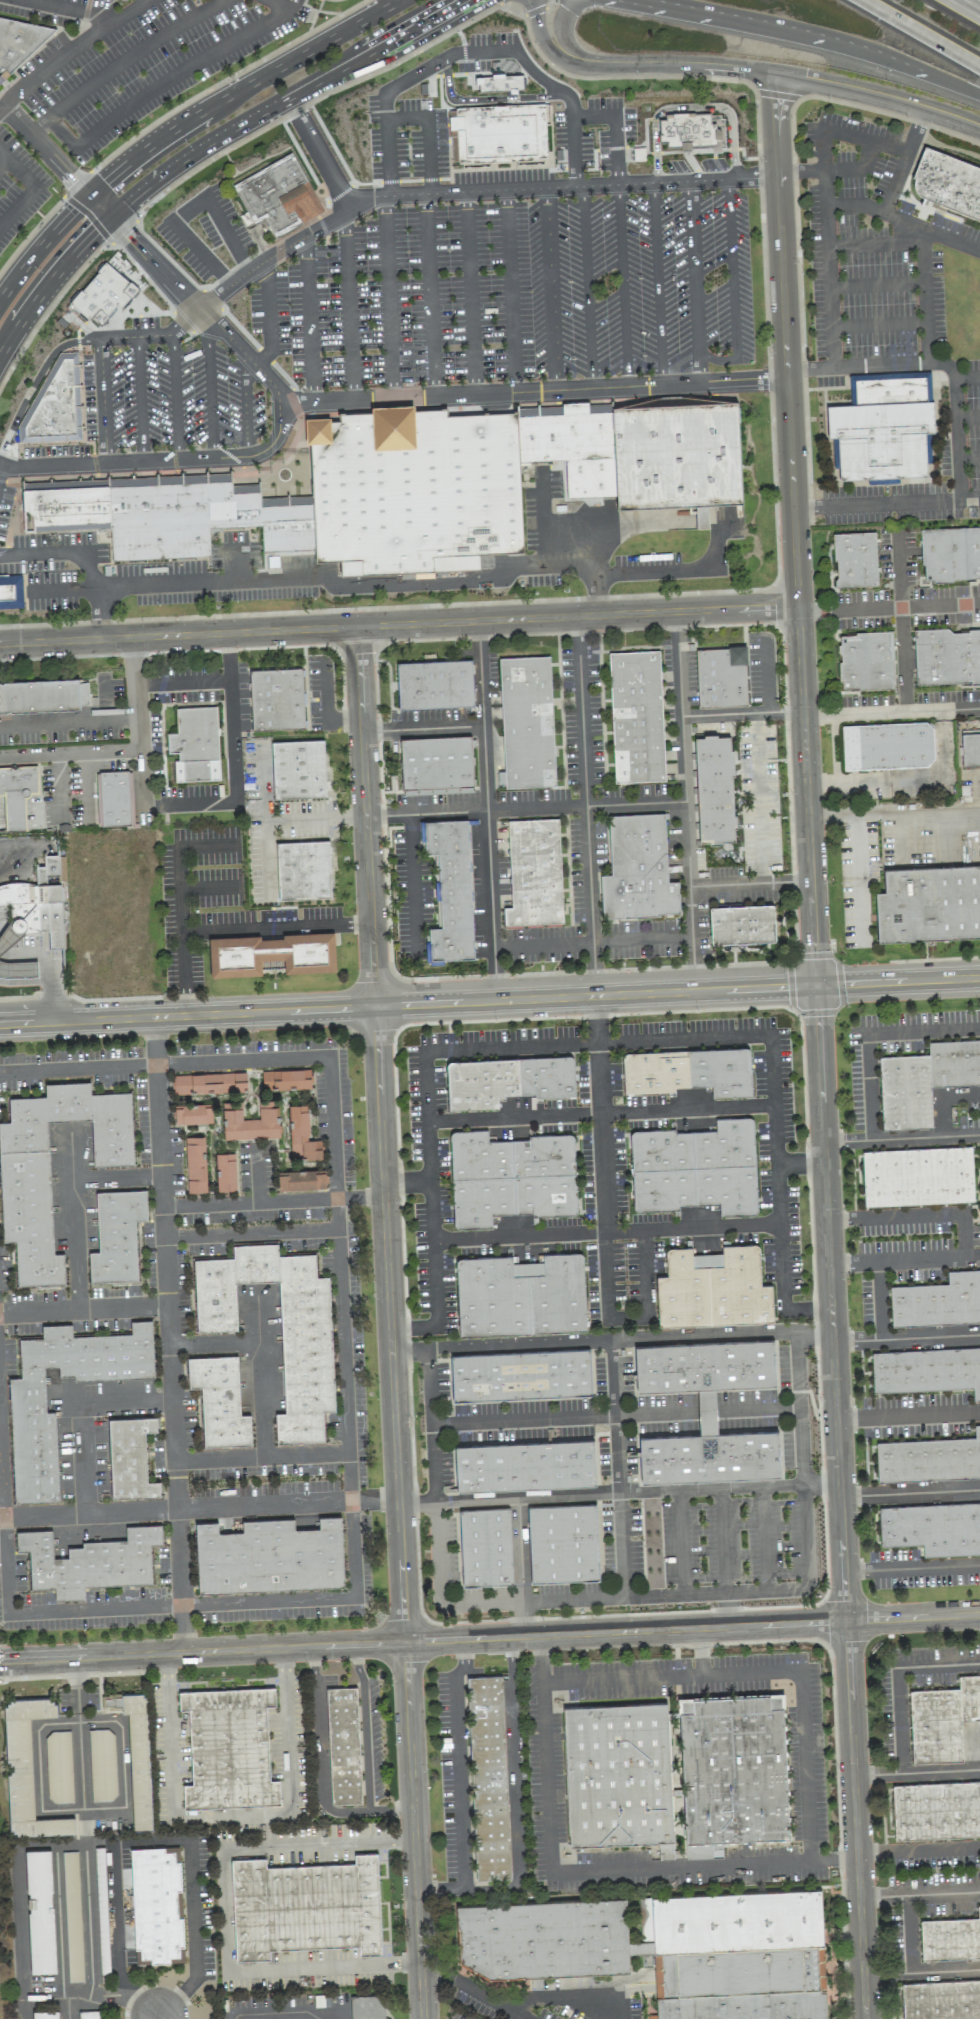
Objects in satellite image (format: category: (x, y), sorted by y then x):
building: (319, 0)
road: (386, 4)
road: (967, 7)
road: (130, 9)
road: (524, 14)
road: (559, 25)
road: (921, 33)
road: (90, 34)
road: (811, 34)
road: (540, 35)
building: (19, 42)
parking lot: (485, 50)
road: (476, 51)
road: (122, 60)
road: (776, 73)
road: (170, 76)
road: (640, 76)
road: (238, 90)
road: (484, 97)
road: (283, 100)
road: (689, 106)
road: (168, 115)
road: (592, 117)
road: (405, 118)
road: (915, 128)
building: (500, 130)
building: (689, 130)
road: (843, 134)
road: (45, 151)
road: (318, 153)
road: (428, 155)
road: (387, 157)
road: (3, 162)
road: (856, 167)
road: (800, 170)
building: (947, 181)
traffic signals: (104, 182)
traffic signals: (75, 183)
road: (34, 187)
road: (416, 194)
building: (278, 196)
road: (836, 204)
road: (99, 206)
road: (900, 219)
traffic signals: (123, 230)
traffic signals: (95, 232)
road: (229, 233)
building: (191, 237)
road: (874, 243)
road: (41, 248)
road: (199, 251)
road: (695, 281)
road: (50, 283)
road: (657, 283)
road: (876, 284)
road: (623, 285)
road: (732, 286)
road: (827, 286)
road: (587, 287)
road: (550, 289)
road: (509, 292)
road: (469, 293)
road: (429, 294)
road: (924, 294)
road: (389, 295)
road: (348, 305)
road: (49, 310)
road: (267, 315)
road: (307, 319)
parking lot: (405, 322)
road: (878, 323)
road: (875, 365)
road: (809, 368)
road: (967, 377)
road: (38, 379)
road: (209, 384)
road: (175, 397)
road: (404, 397)
road: (140, 399)
road: (103, 401)
building: (55, 405)
road: (245, 408)
road: (955, 416)
road: (968, 417)
building: (882, 425)
building: (565, 438)
building: (834, 453)
building: (928, 454)
building: (677, 455)
road: (211, 458)
road: (968, 458)
road: (0, 465)
road: (52, 466)
building: (57, 484)
building: (414, 490)
road: (894, 502)
parking lot: (569, 505)
building: (66, 509)
building: (701, 517)
building: (195, 519)
road: (60, 552)
building: (950, 554)
building: (855, 559)
road: (711, 560)
road: (237, 562)
road: (560, 562)
road: (639, 573)
road: (207, 580)
road: (420, 584)
road: (63, 589)
building: (11, 592)
road: (596, 595)
road: (888, 608)
road: (99, 613)
road: (900, 622)
road: (398, 625)
building: (947, 656)
building: (866, 660)
road: (679, 663)
building: (721, 677)
road: (182, 682)
building: (434, 684)
building: (43, 696)
building: (277, 699)
road: (891, 712)
building: (636, 716)
road: (69, 721)
building: (526, 722)
road: (422, 728)
road: (682, 740)
building: (195, 741)
building: (887, 745)
road: (126, 749)
building: (970, 749)
building: (436, 765)
building: (298, 769)
road: (946, 772)
road: (584, 778)
road: (848, 787)
building: (714, 788)
road: (234, 790)
building: (17, 793)
road: (264, 793)
building: (114, 797)
road: (525, 809)
road: (930, 812)
road: (843, 815)
road: (316, 818)
road: (267, 853)
building: (637, 868)
building: (303, 870)
building: (534, 873)
road: (412, 879)
road: (490, 884)
road: (697, 886)
building: (450, 887)
road: (210, 889)
building: (36, 903)
building: (929, 903)
road: (183, 906)
building: (741, 924)
road: (278, 928)
road: (2, 947)
building: (272, 954)
road: (593, 969)
road: (47, 970)
road: (494, 974)
traffic signals: (815, 985)
road: (489, 1000)
road: (595, 1019)
road: (870, 1032)
road: (597, 1041)
road: (818, 1046)
road: (312, 1059)
road: (79, 1069)
building: (688, 1071)
building: (286, 1079)
building: (506, 1080)
building: (924, 1080)
building: (208, 1083)
road: (943, 1100)
road: (598, 1110)
building: (192, 1114)
building: (250, 1121)
building: (301, 1134)
road: (901, 1136)
road: (799, 1163)
building: (195, 1164)
building: (695, 1168)
building: (225, 1171)
building: (917, 1176)
building: (24, 1177)
building: (510, 1177)
road: (600, 1178)
building: (301, 1180)
road: (405, 1182)
road: (75, 1202)
road: (276, 1202)
road: (911, 1215)
road: (603, 1228)
building: (116, 1235)
road: (169, 1244)
road: (904, 1258)
road: (644, 1269)
building: (713, 1288)
building: (520, 1295)
building: (938, 1301)
road: (389, 1322)
road: (906, 1335)
road: (611, 1340)
road: (348, 1342)
road: (266, 1357)
building: (926, 1370)
building: (307, 1371)
building: (520, 1375)
building: (26, 1396)
building: (219, 1400)
road: (175, 1403)
road: (767, 1409)
building: (706, 1411)
road: (84, 1417)
road: (908, 1418)
road: (526, 1421)
road: (3, 1438)
building: (130, 1457)
building: (929, 1459)
building: (525, 1465)
road: (620, 1469)
road: (909, 1491)
road: (618, 1494)
road: (220, 1508)
road: (95, 1514)
building: (932, 1527)
road: (765, 1540)
road: (723, 1542)
building: (563, 1543)
road: (681, 1543)
building: (485, 1546)
road: (524, 1550)
building: (269, 1556)
building: (89, 1561)
road: (911, 1565)
road: (629, 1597)
road: (316, 1600)
road: (52, 1611)
road: (728, 1611)
road: (525, 1619)
road: (490, 1638)
road: (701, 1653)
road: (766, 1673)
road: (896, 1701)
building: (942, 1719)
road: (80, 1722)
road: (365, 1728)
road: (970, 1742)
building: (343, 1745)
building: (229, 1749)
road: (81, 1751)
building: (138, 1758)
road: (515, 1763)
building: (102, 1764)
road: (459, 1765)
building: (58, 1766)
road: (124, 1768)
road: (940, 1768)
building: (26, 1770)
road: (40, 1771)
road: (322, 1771)
building: (732, 1771)
building: (617, 1774)
building: (488, 1777)
road: (85, 1808)
building: (936, 1809)
road: (233, 1815)
road: (107, 1843)
road: (918, 1847)
road: (586, 1873)
road: (919, 1892)
building: (156, 1904)
building: (72, 1906)
building: (305, 1906)
building: (40, 1911)
road: (224, 1913)
road: (89, 1920)
road: (116, 1923)
road: (60, 1931)
road: (24, 1932)
road: (196, 1936)
building: (950, 1937)
building: (666, 1948)
road: (921, 1969)
road: (473, 1989)
road: (99, 1996)
road: (573, 1999)
building: (941, 1999)
building: (367, 2006)
road: (146, 2008)
road: (275, 2013)
building: (45, 2014)
road: (157, 2018)

